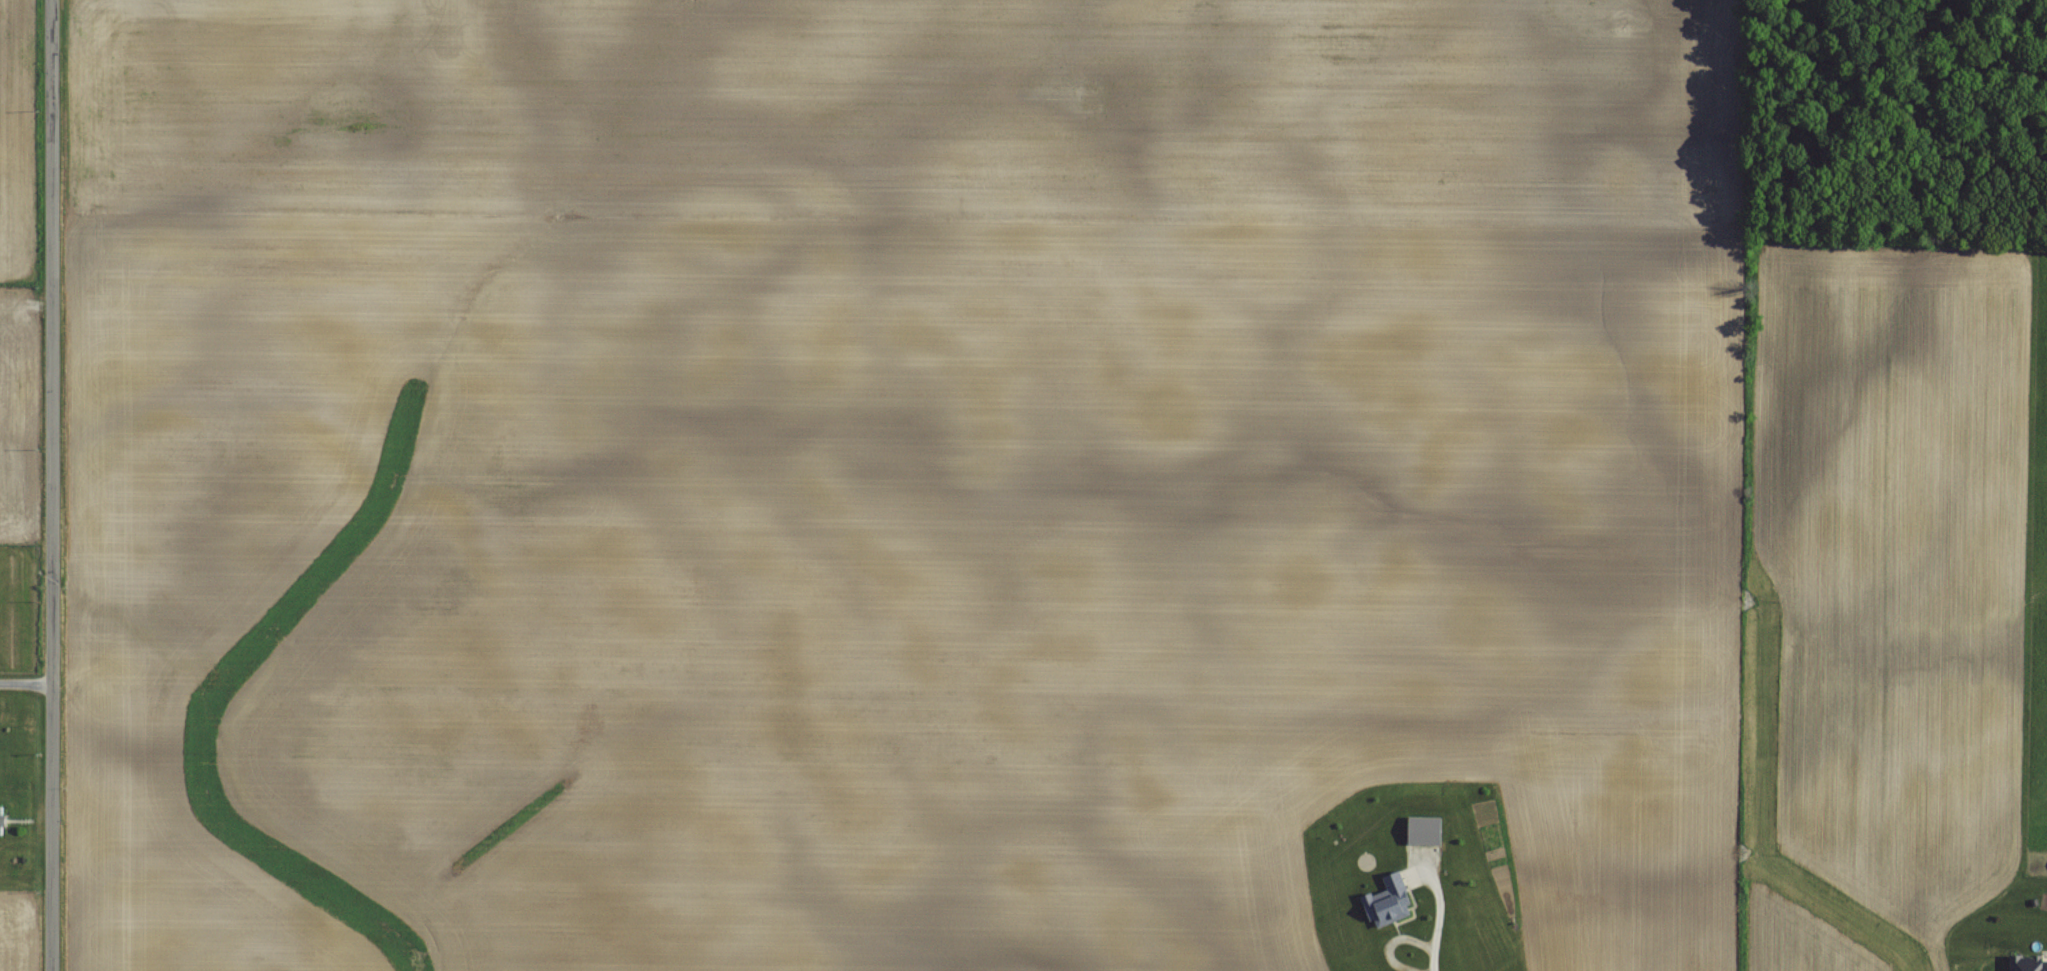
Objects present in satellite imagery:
road: (52, 485)
road: (26, 671)
building: (1388, 899)
road: (1399, 937)
building: (2026, 961)

